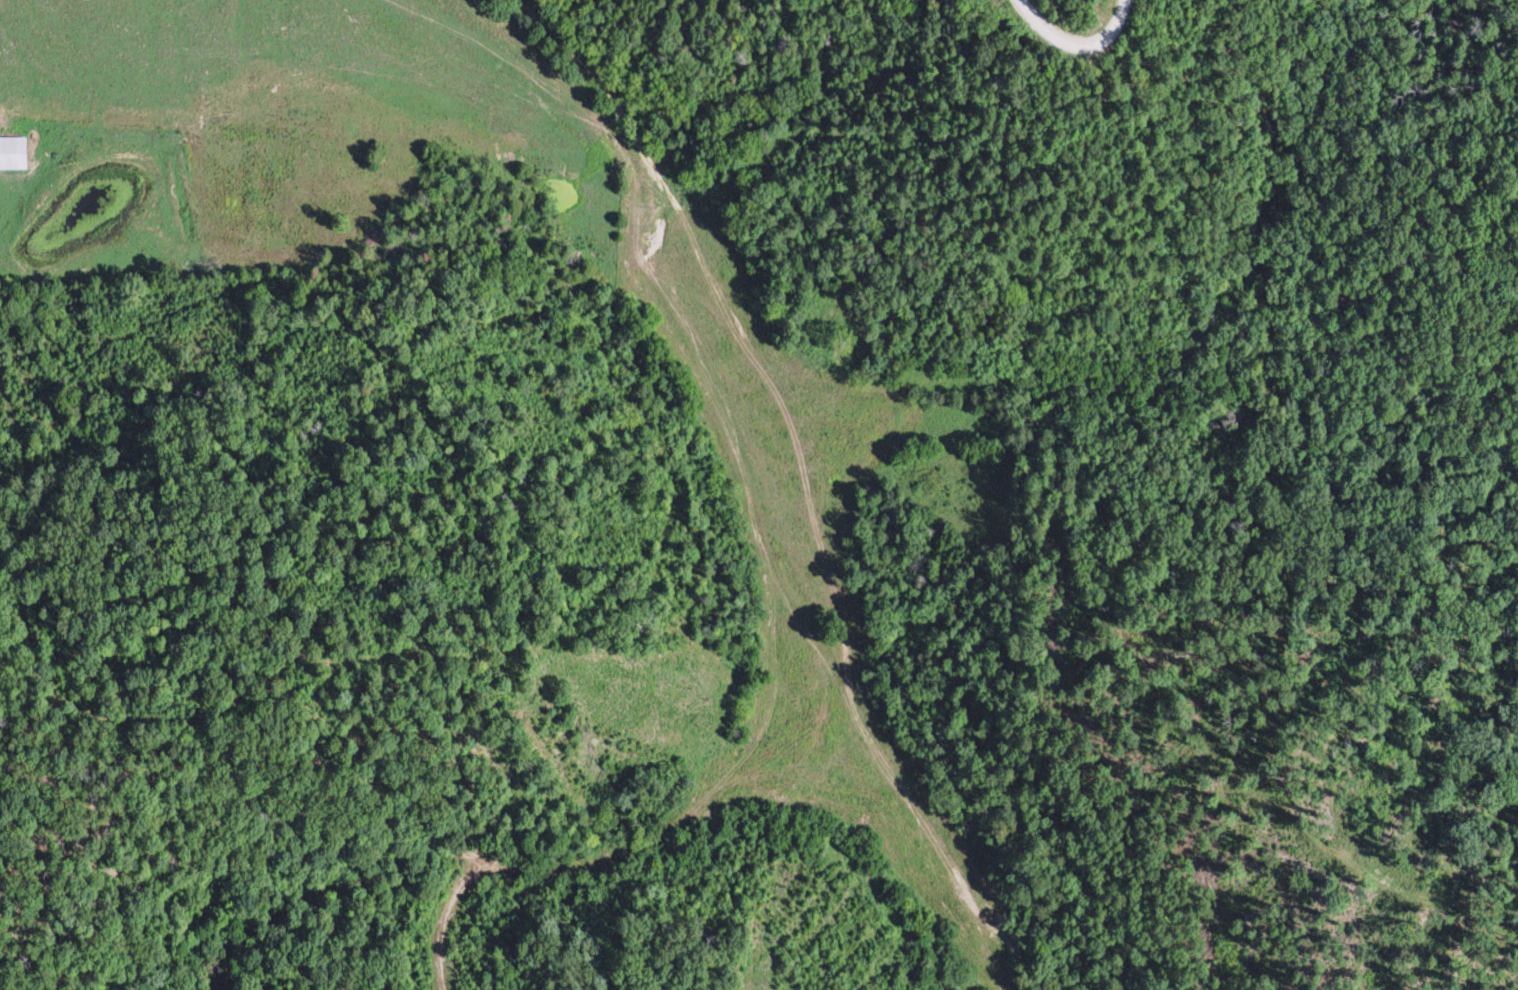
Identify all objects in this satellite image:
building: (18, 152)

